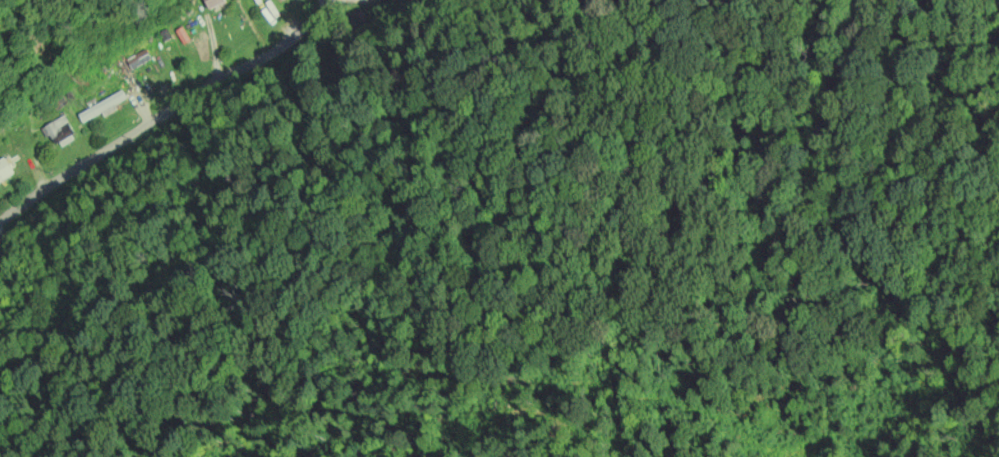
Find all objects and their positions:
building: (102, 106)
building: (57, 125)
road: (183, 142)
building: (5, 167)

